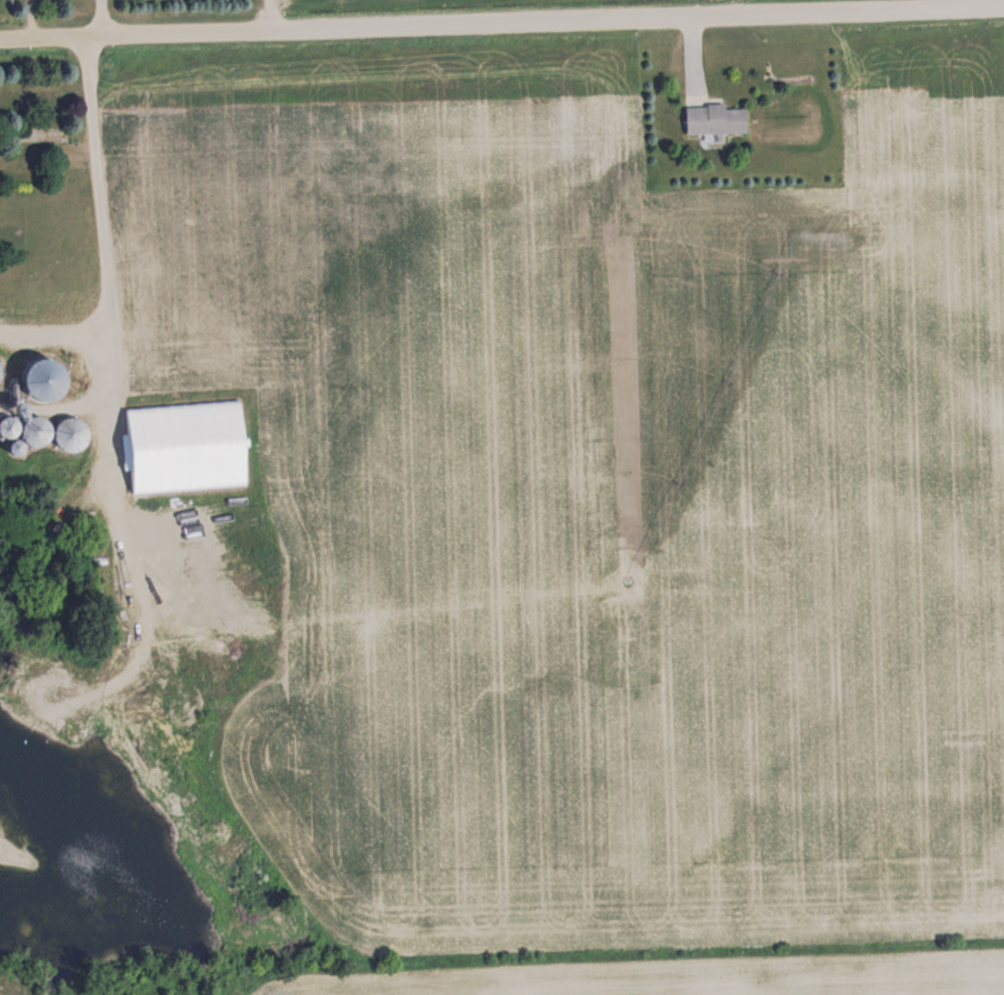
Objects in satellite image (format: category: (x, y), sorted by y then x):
road: (501, 23)
building: (713, 118)
road: (105, 312)
building: (39, 377)
building: (6, 424)
building: (33, 429)
building: (70, 432)
building: (13, 445)
building: (184, 446)

